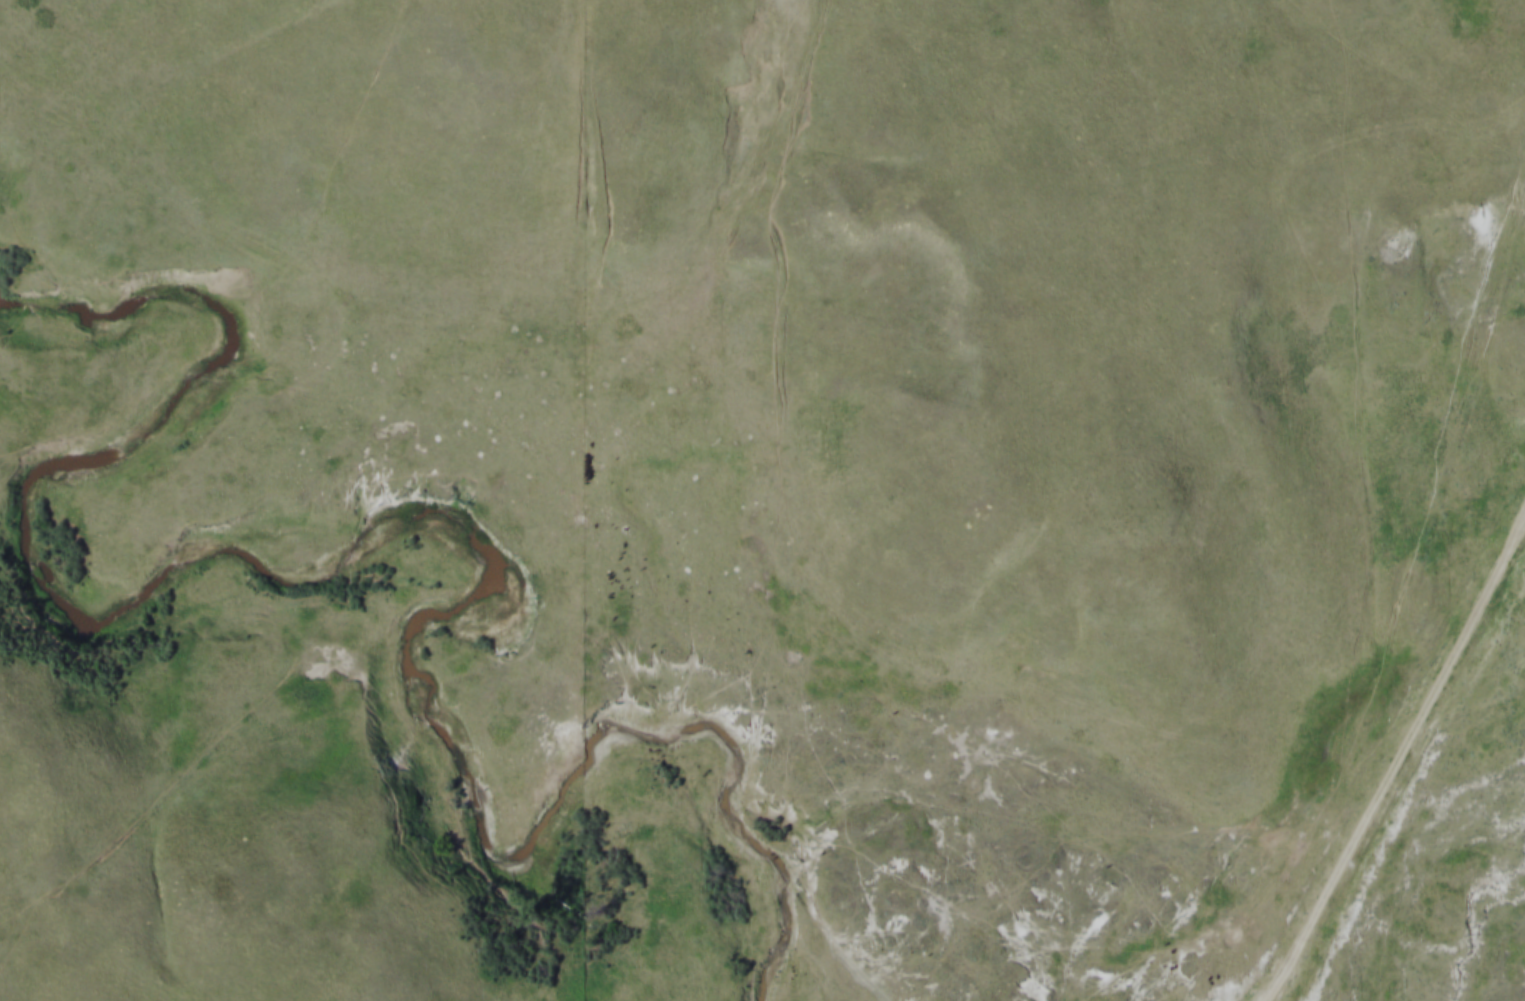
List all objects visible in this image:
road: (1399, 766)

